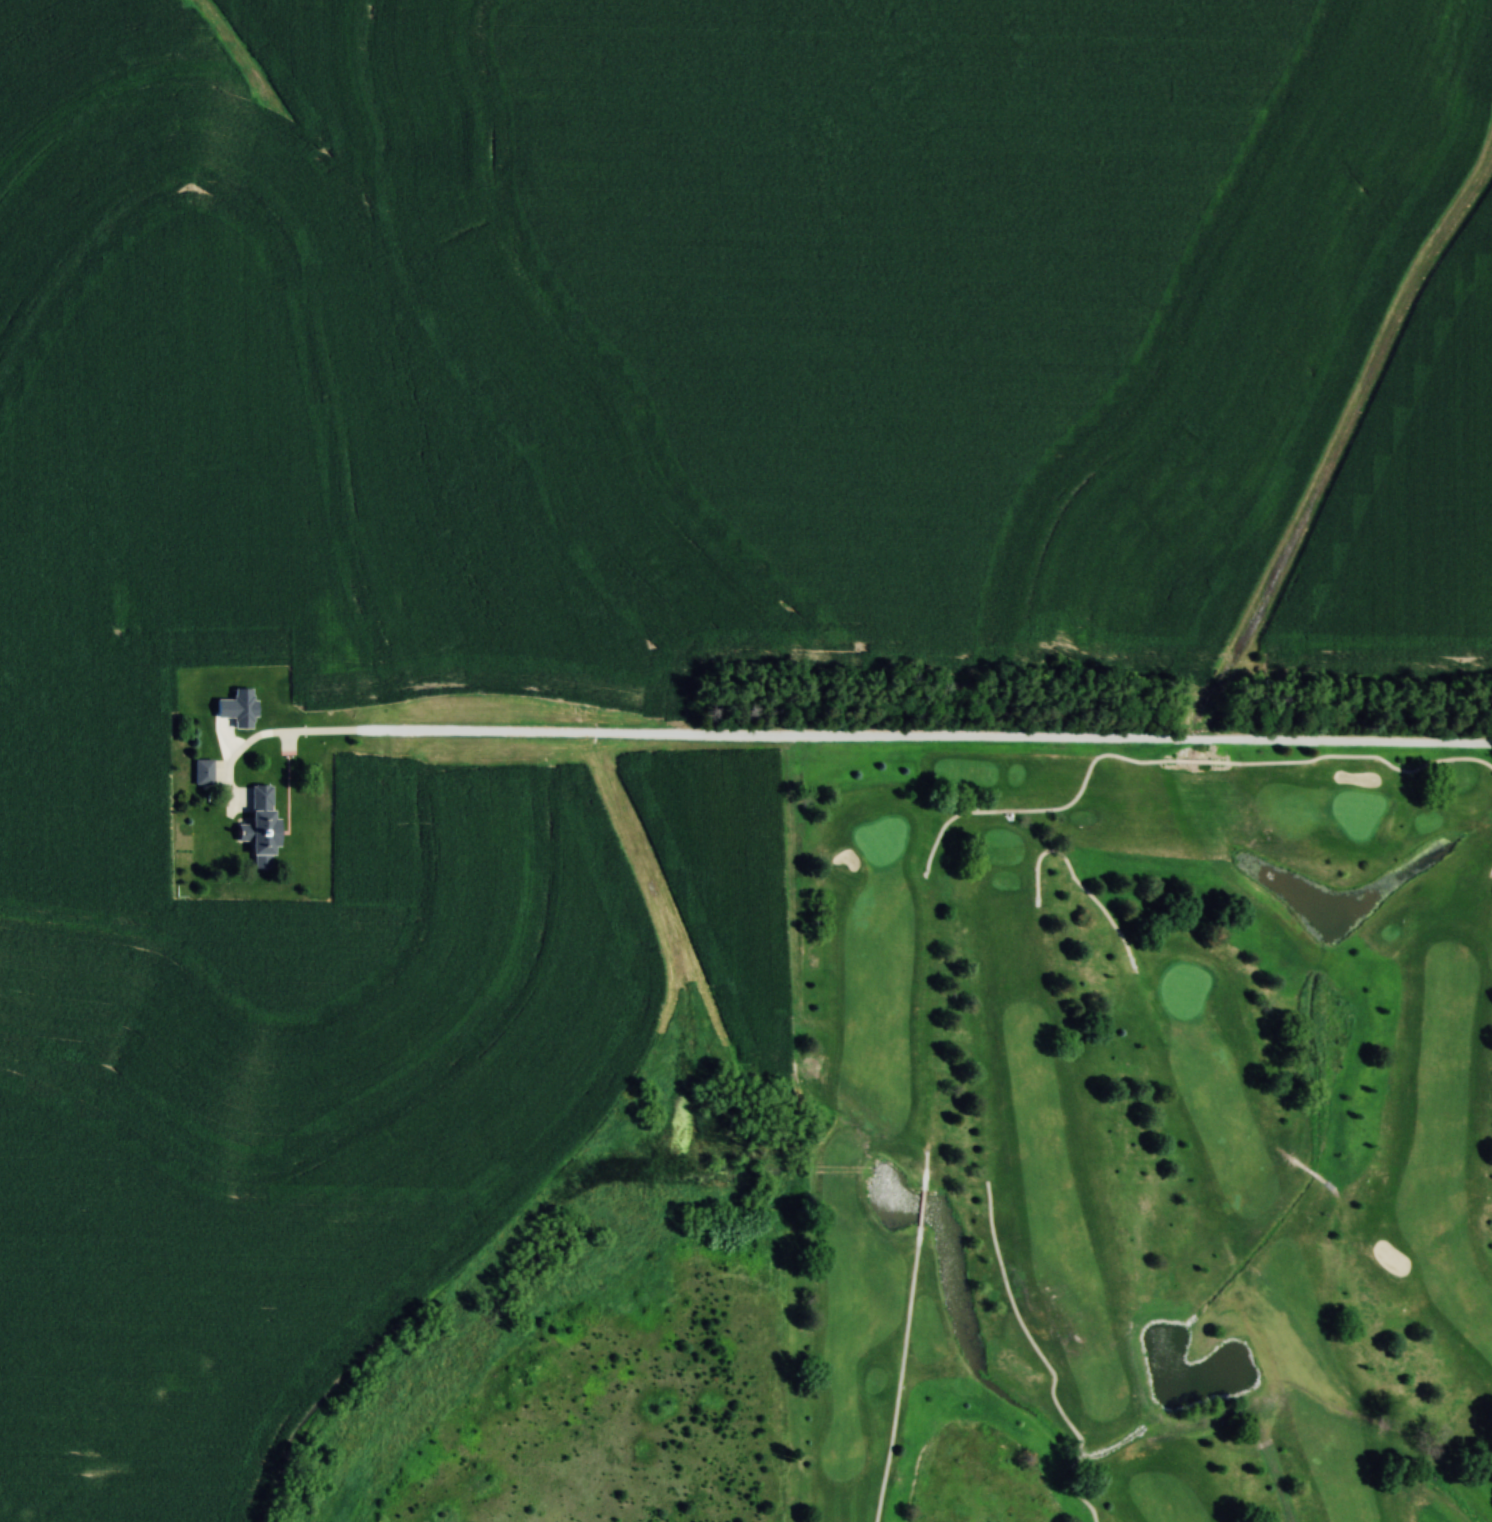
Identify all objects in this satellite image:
road: (853, 738)
road: (1178, 759)
building: (201, 771)
building: (256, 825)
road: (1077, 881)
park: (1144, 1143)
road: (925, 1163)
road: (921, 1204)
road: (1046, 1361)
road: (898, 1378)

